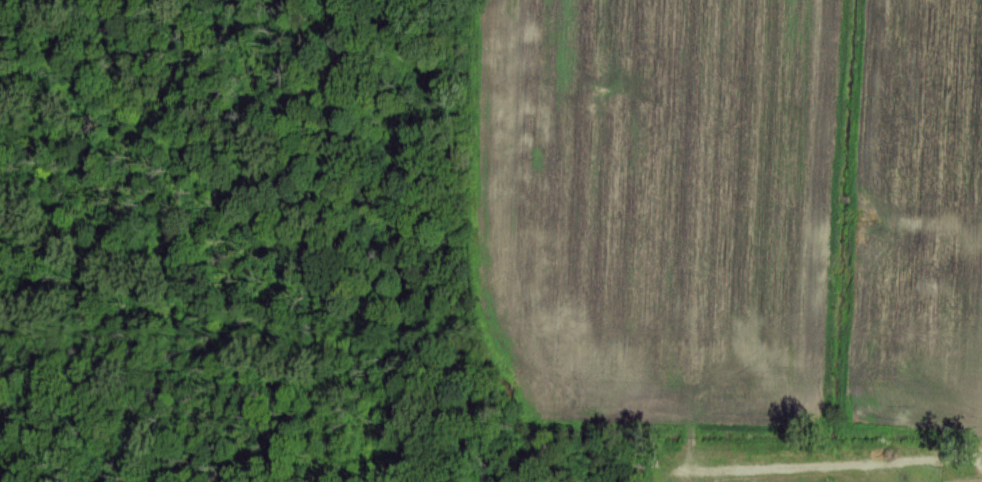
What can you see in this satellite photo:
road: (830, 467)

